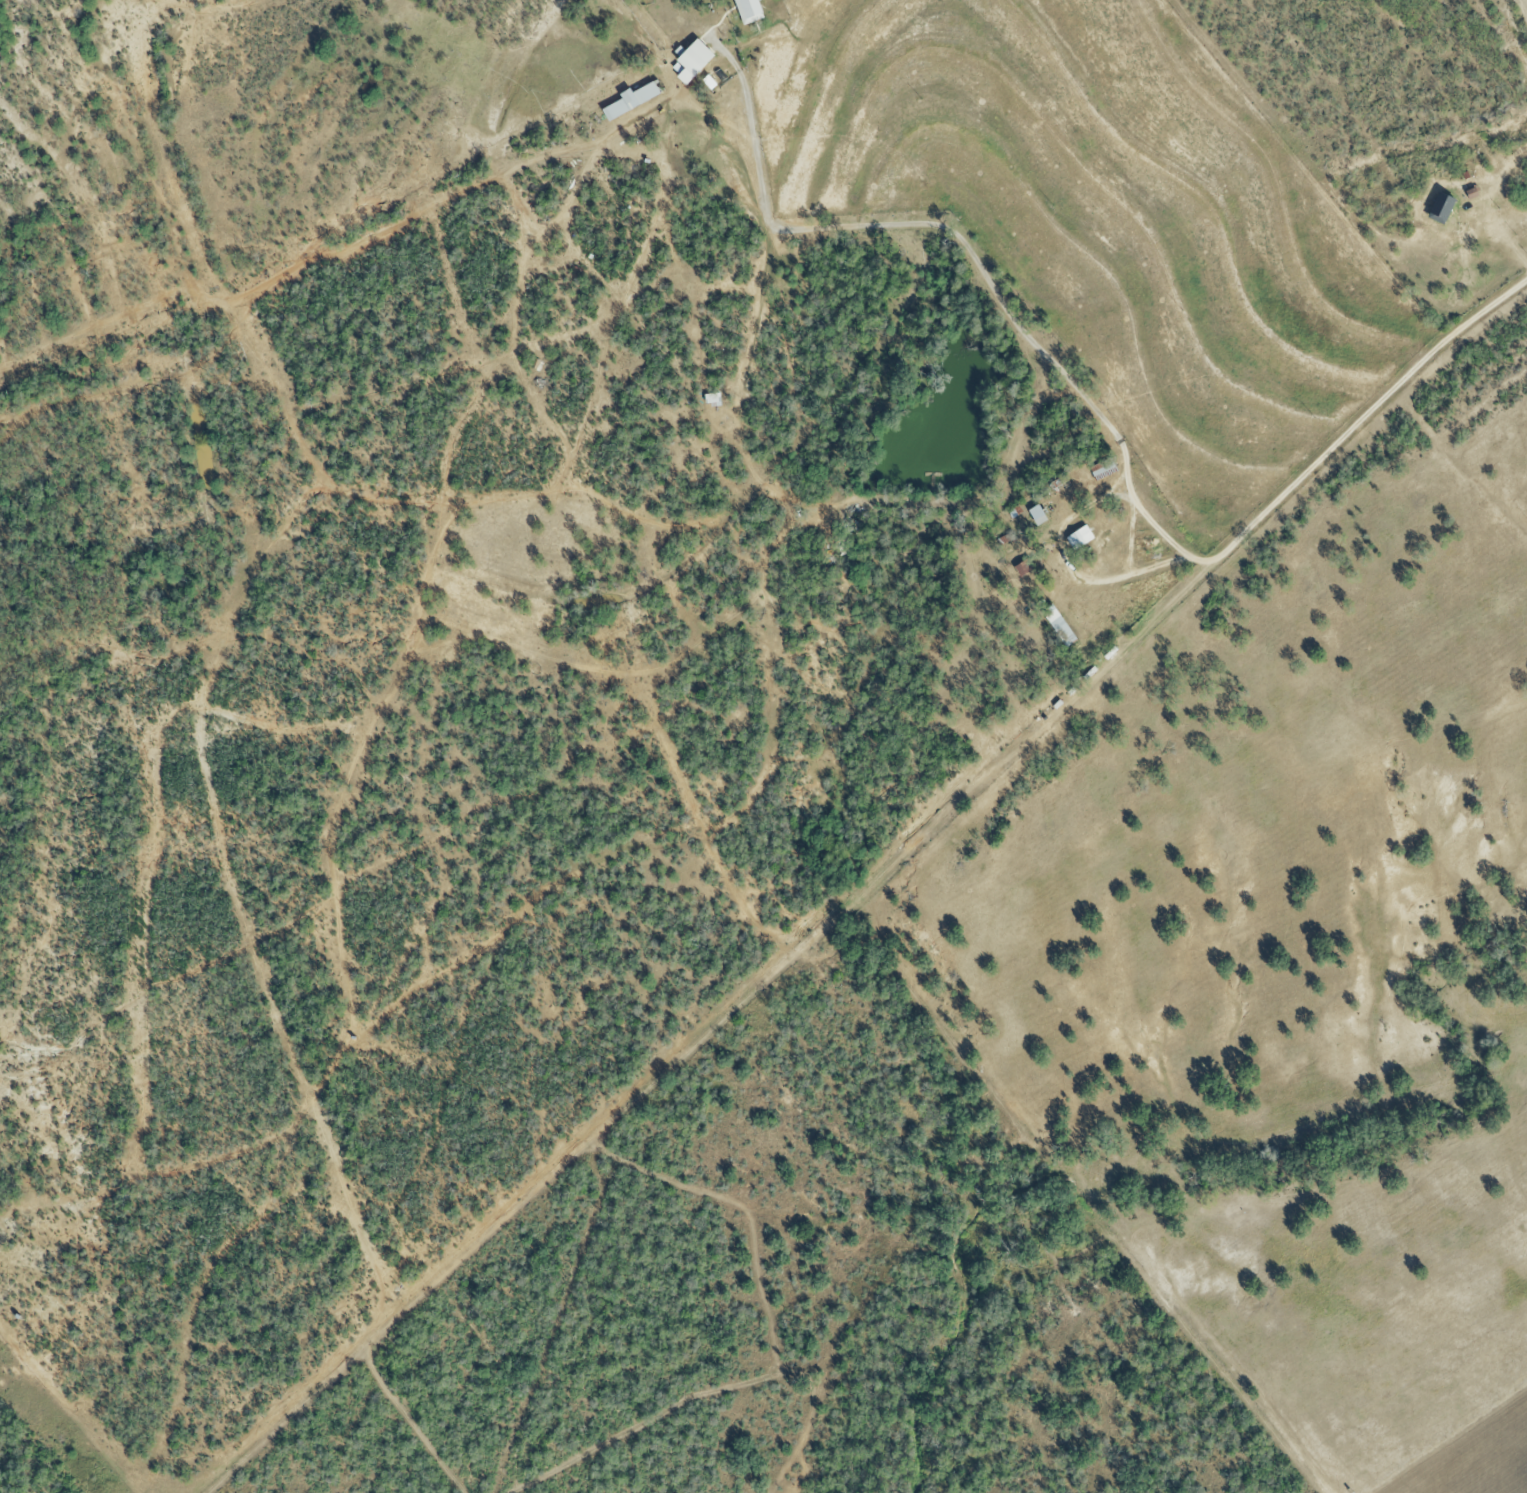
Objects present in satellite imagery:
building: (749, 11)
building: (693, 63)
road: (1118, 438)
building: (1104, 472)
building: (1037, 516)
road: (1131, 539)
building: (1079, 540)
road: (1069, 564)
building: (1062, 633)

